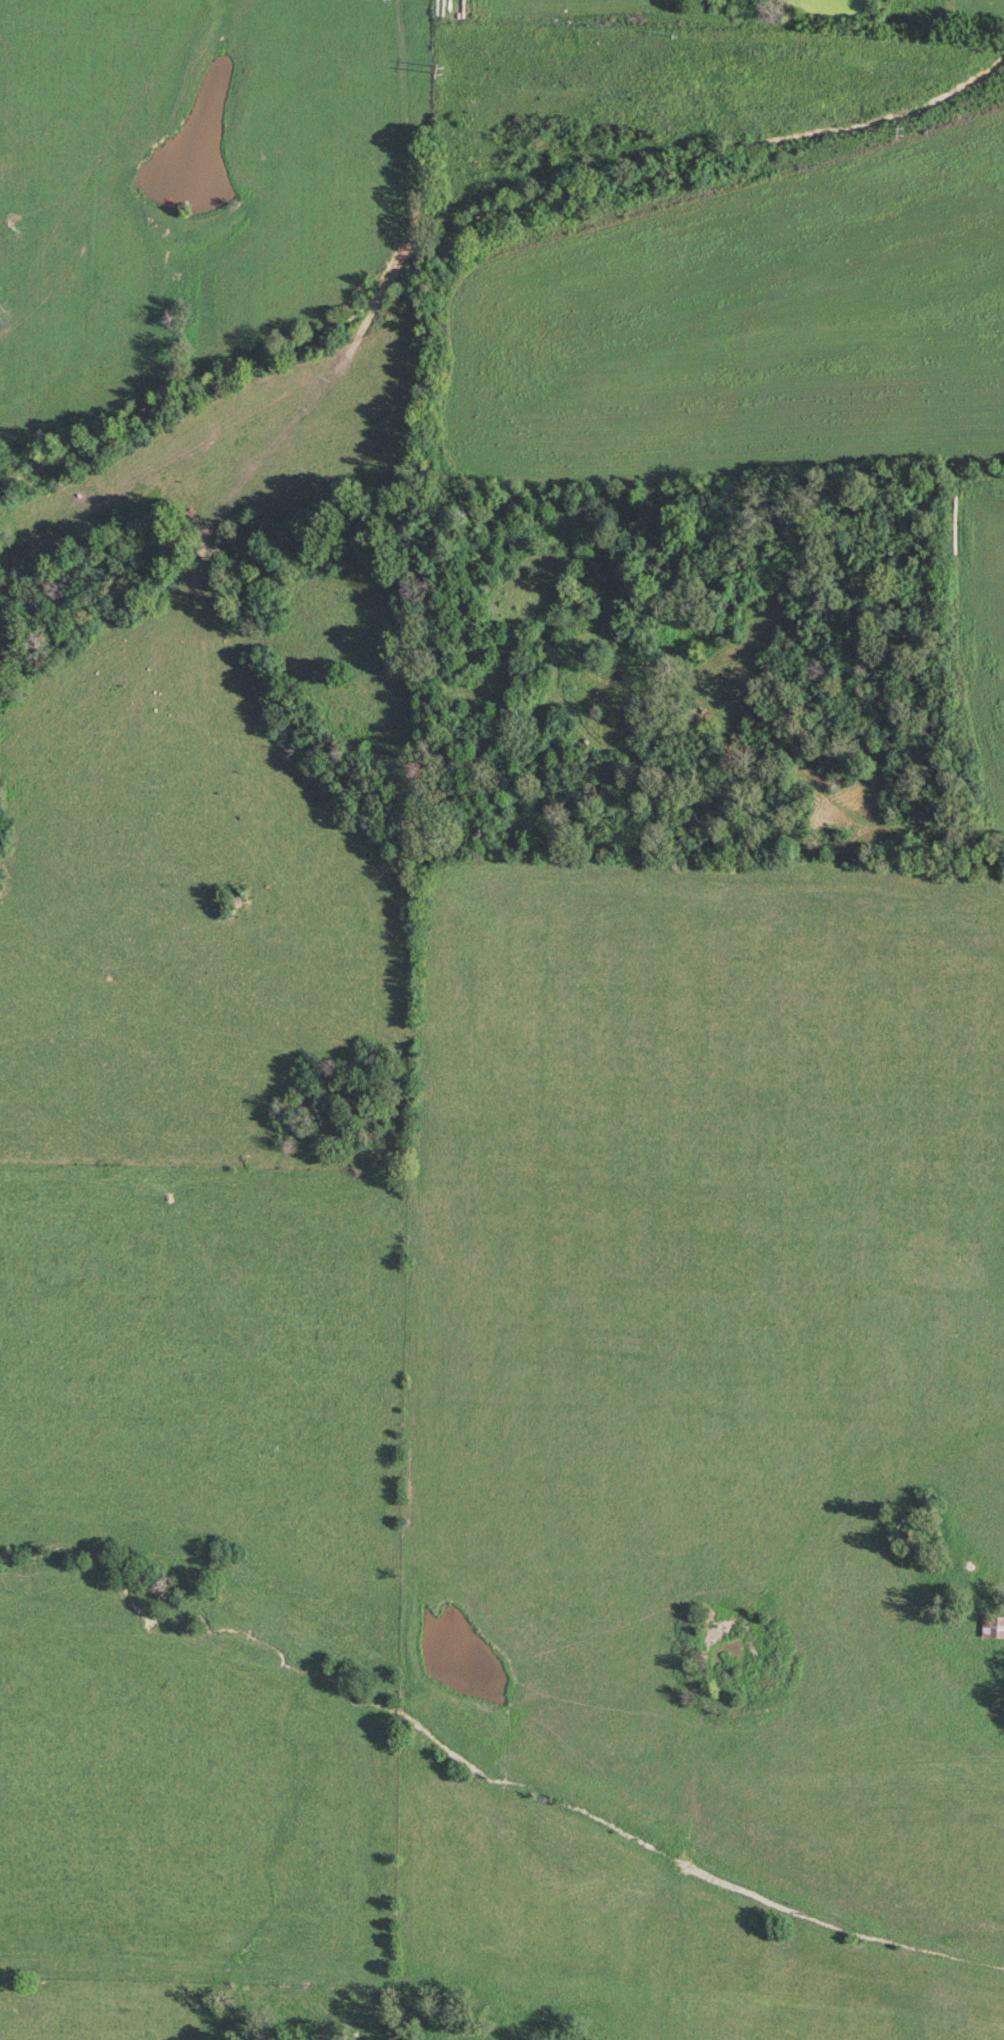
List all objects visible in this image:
building: (992, 1626)

